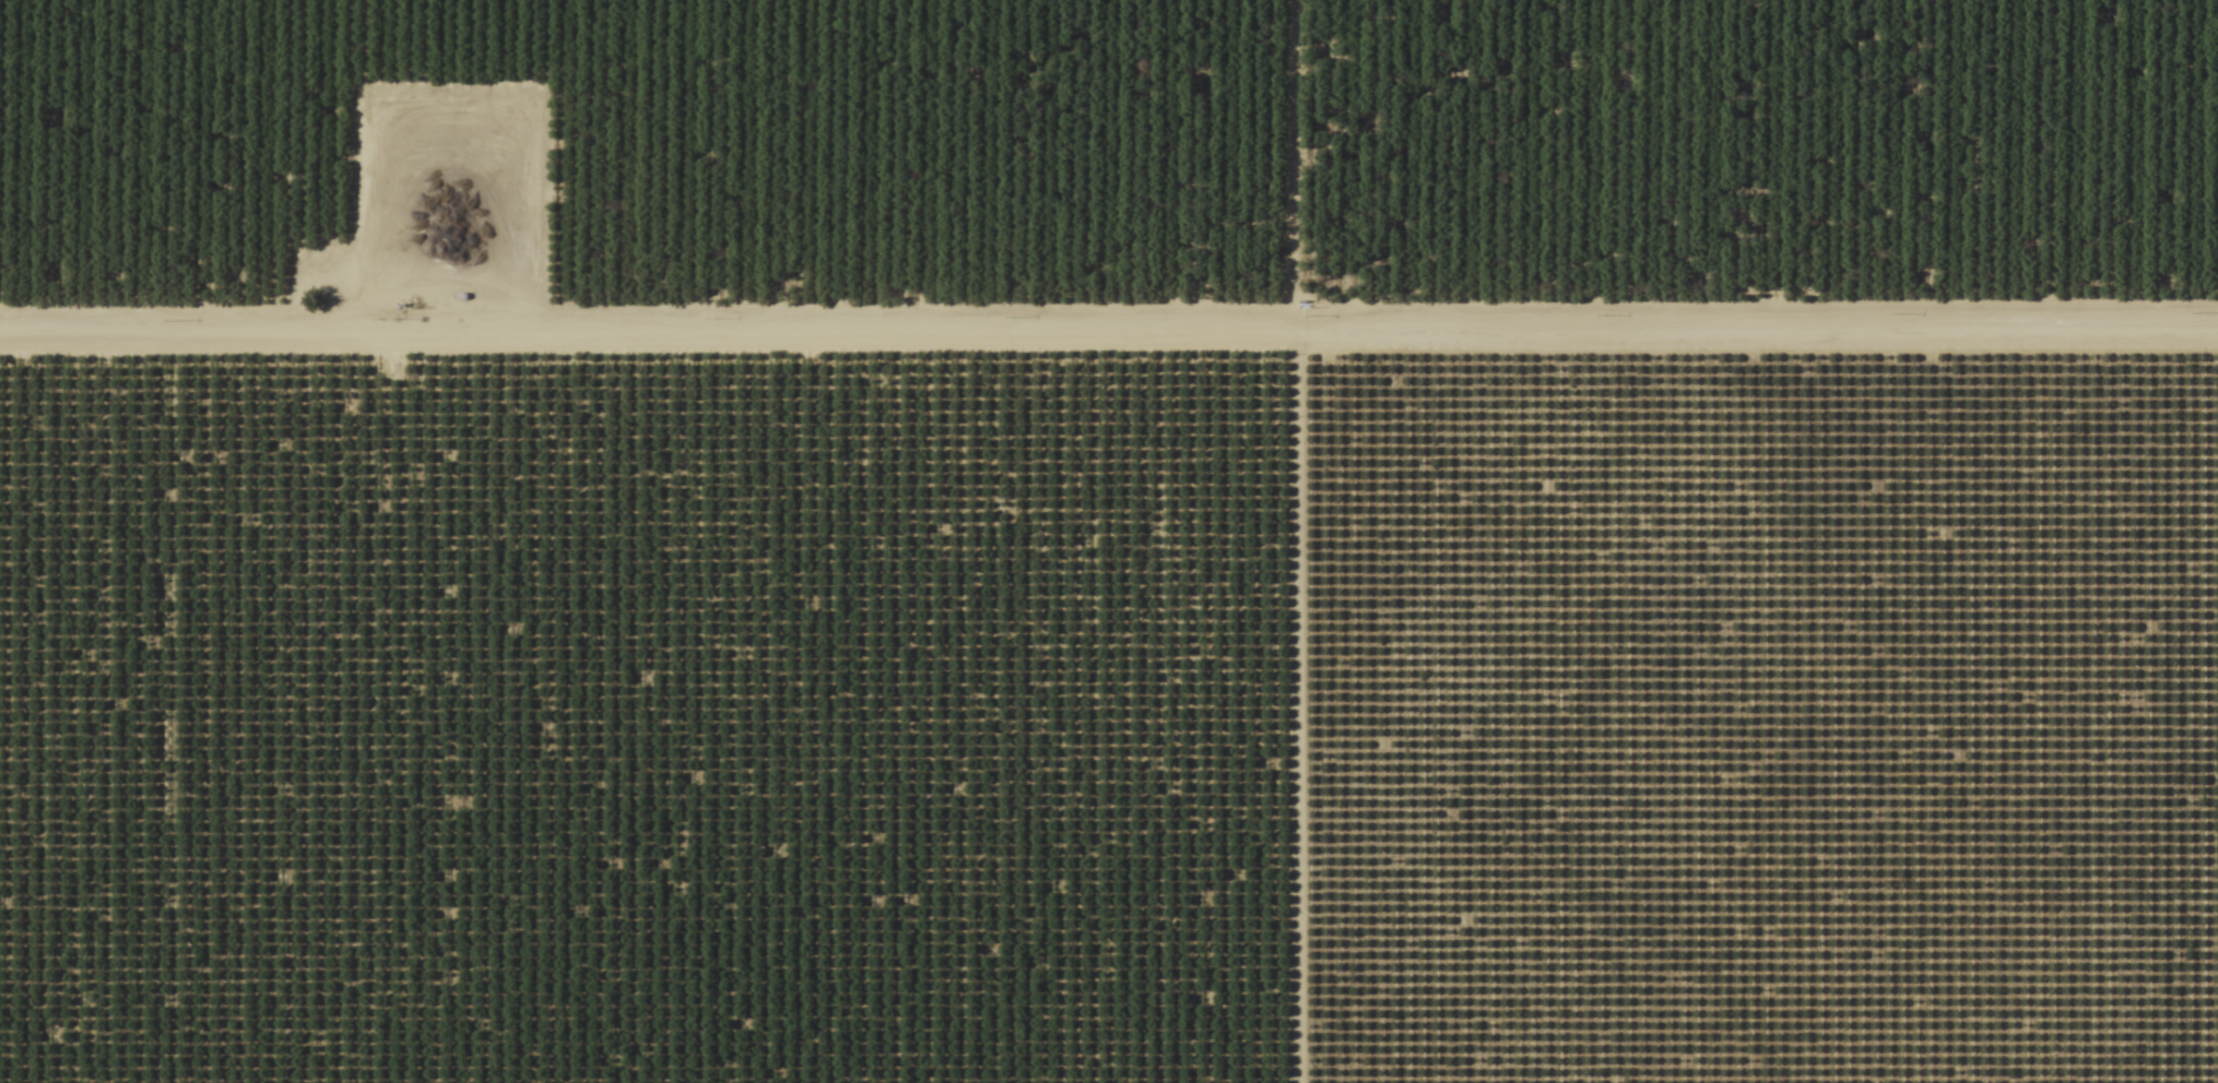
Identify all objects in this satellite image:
road: (1108, 324)
road: (1307, 702)

